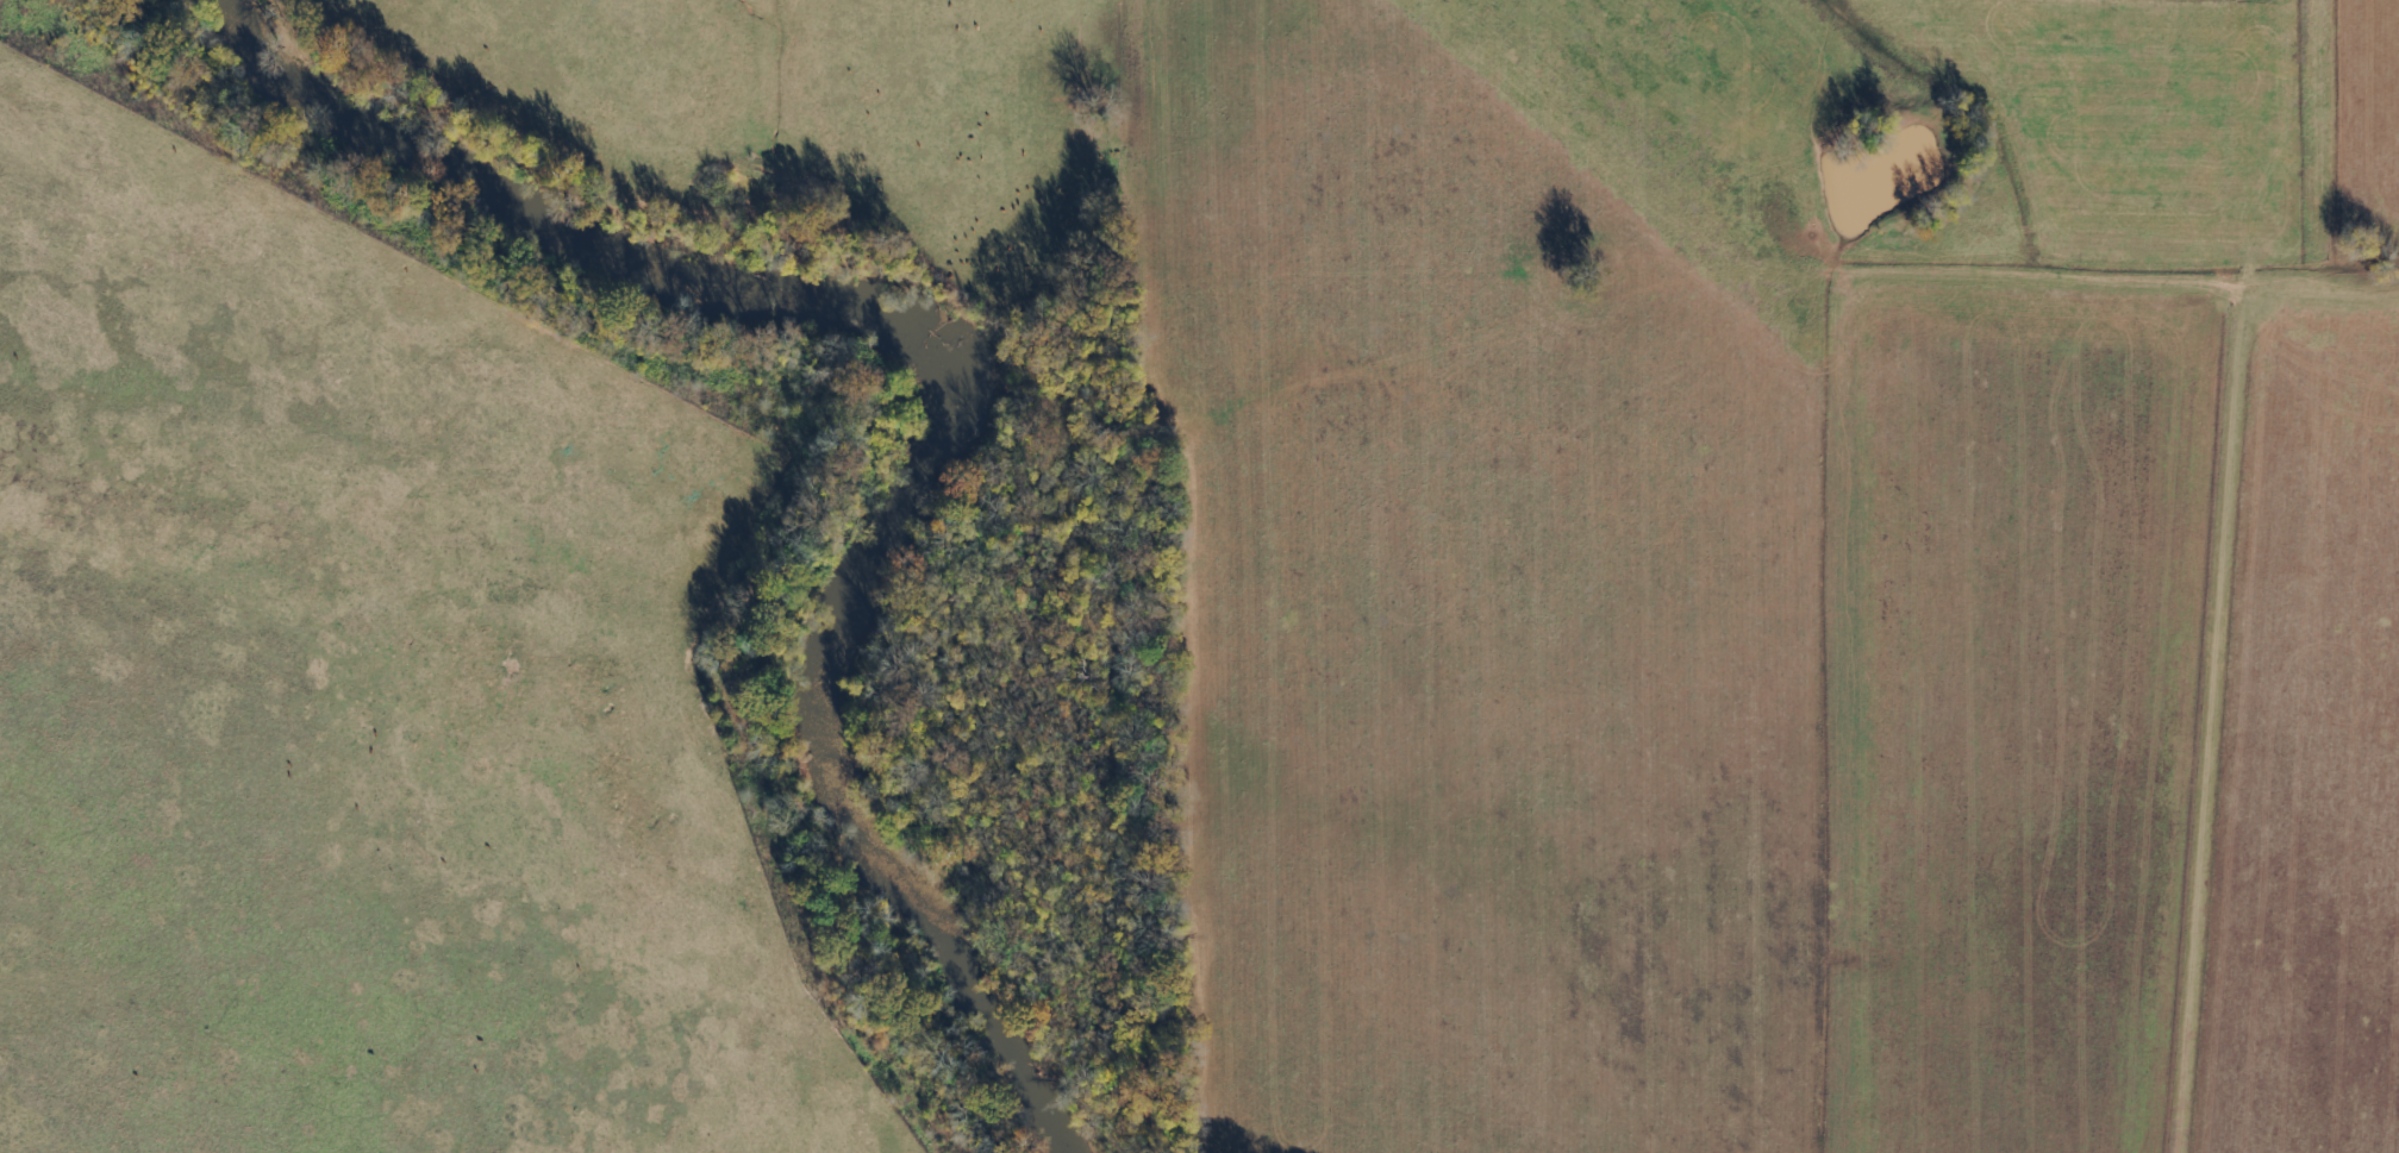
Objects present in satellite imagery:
river: (952, 383)

